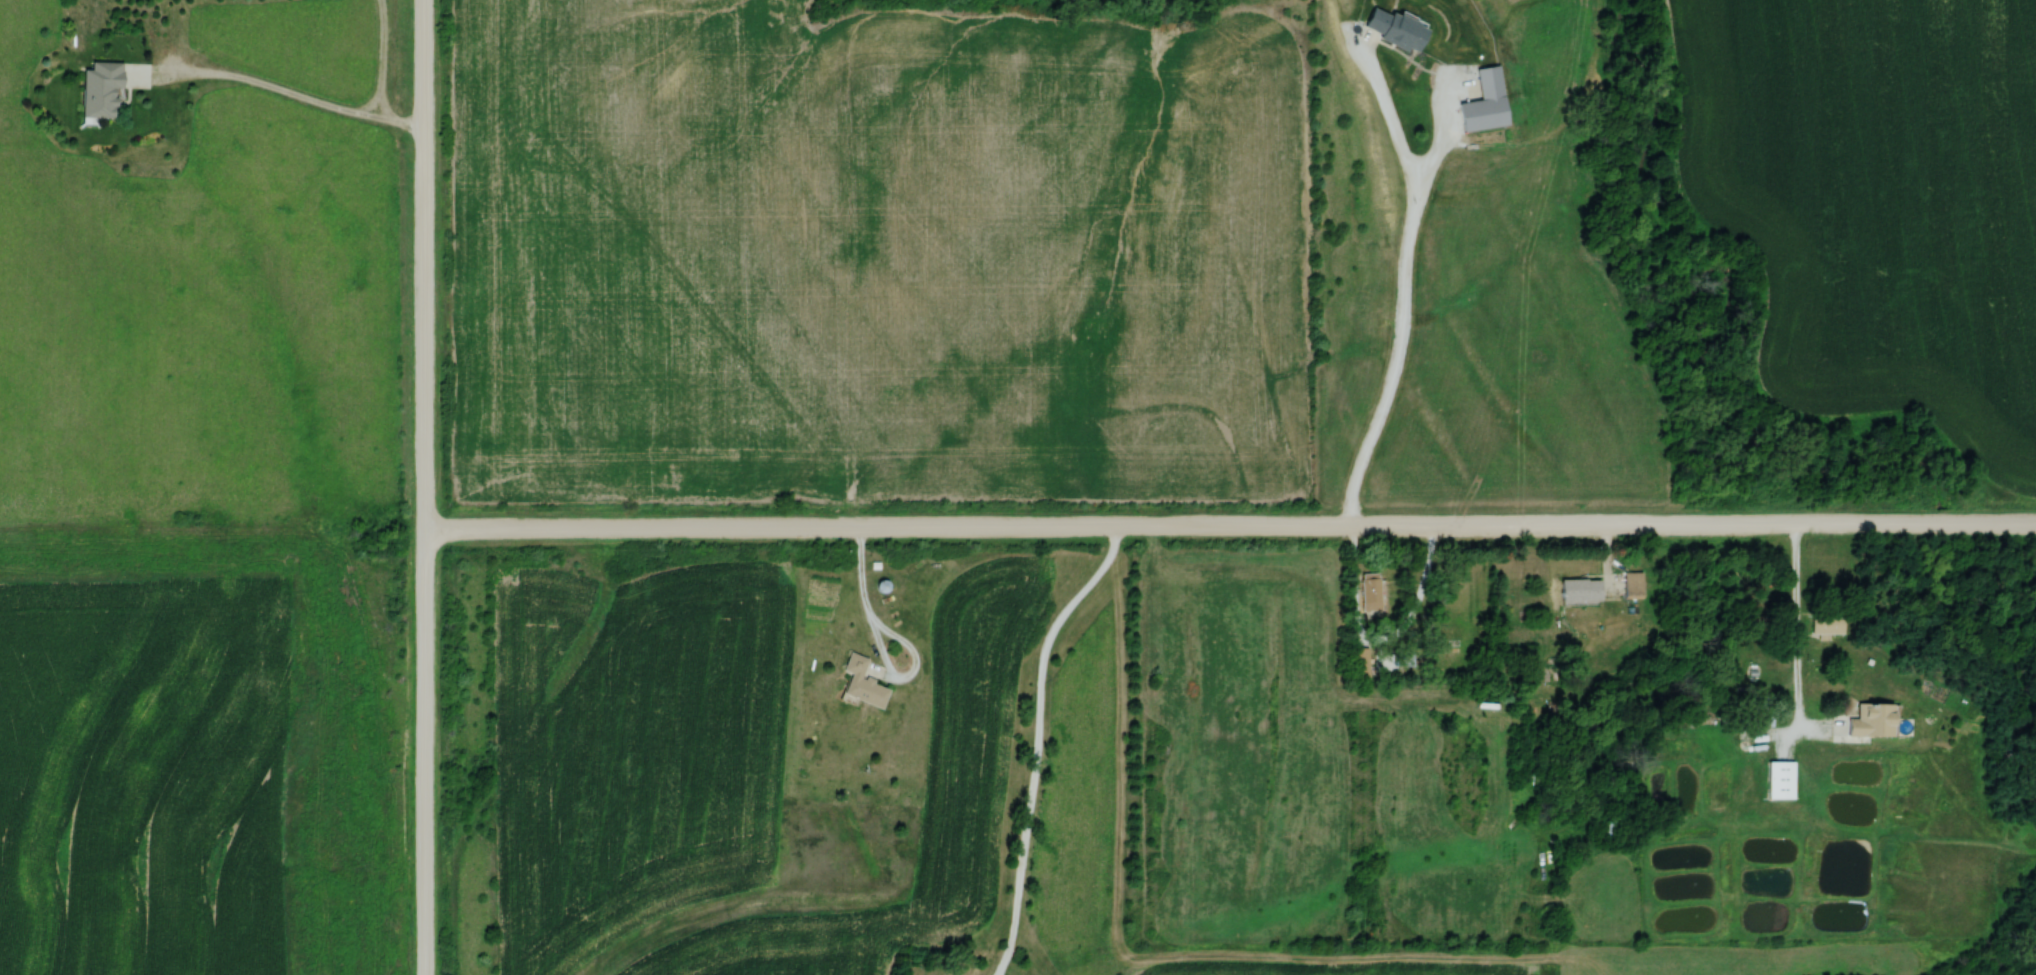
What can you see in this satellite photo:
building: (1392, 31)
road: (278, 89)
building: (98, 91)
building: (1483, 104)
road: (1405, 282)
road: (422, 487)
road: (1229, 524)
building: (881, 586)
building: (1631, 586)
building: (1579, 591)
building: (1369, 593)
building: (1826, 624)
road: (1796, 636)
road: (880, 645)
building: (861, 683)
building: (1762, 714)
building: (1871, 721)
road: (1037, 740)
building: (1605, 825)

